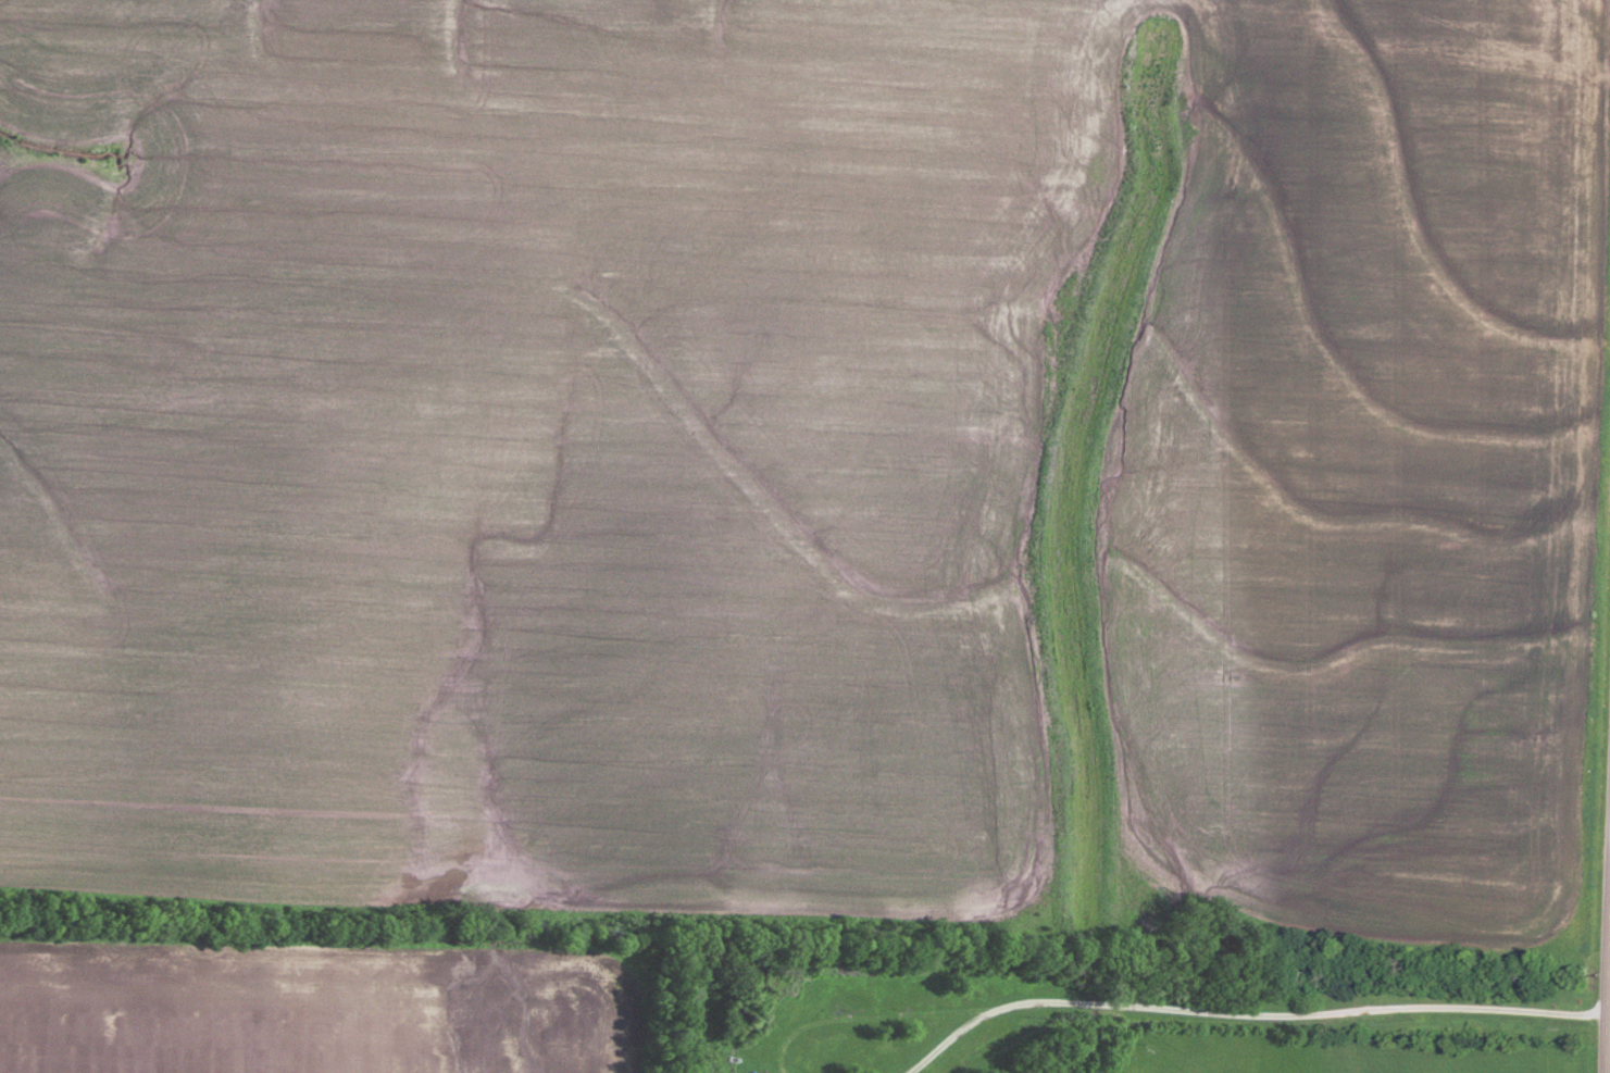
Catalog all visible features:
road: (1607, 993)
road: (1239, 1009)

